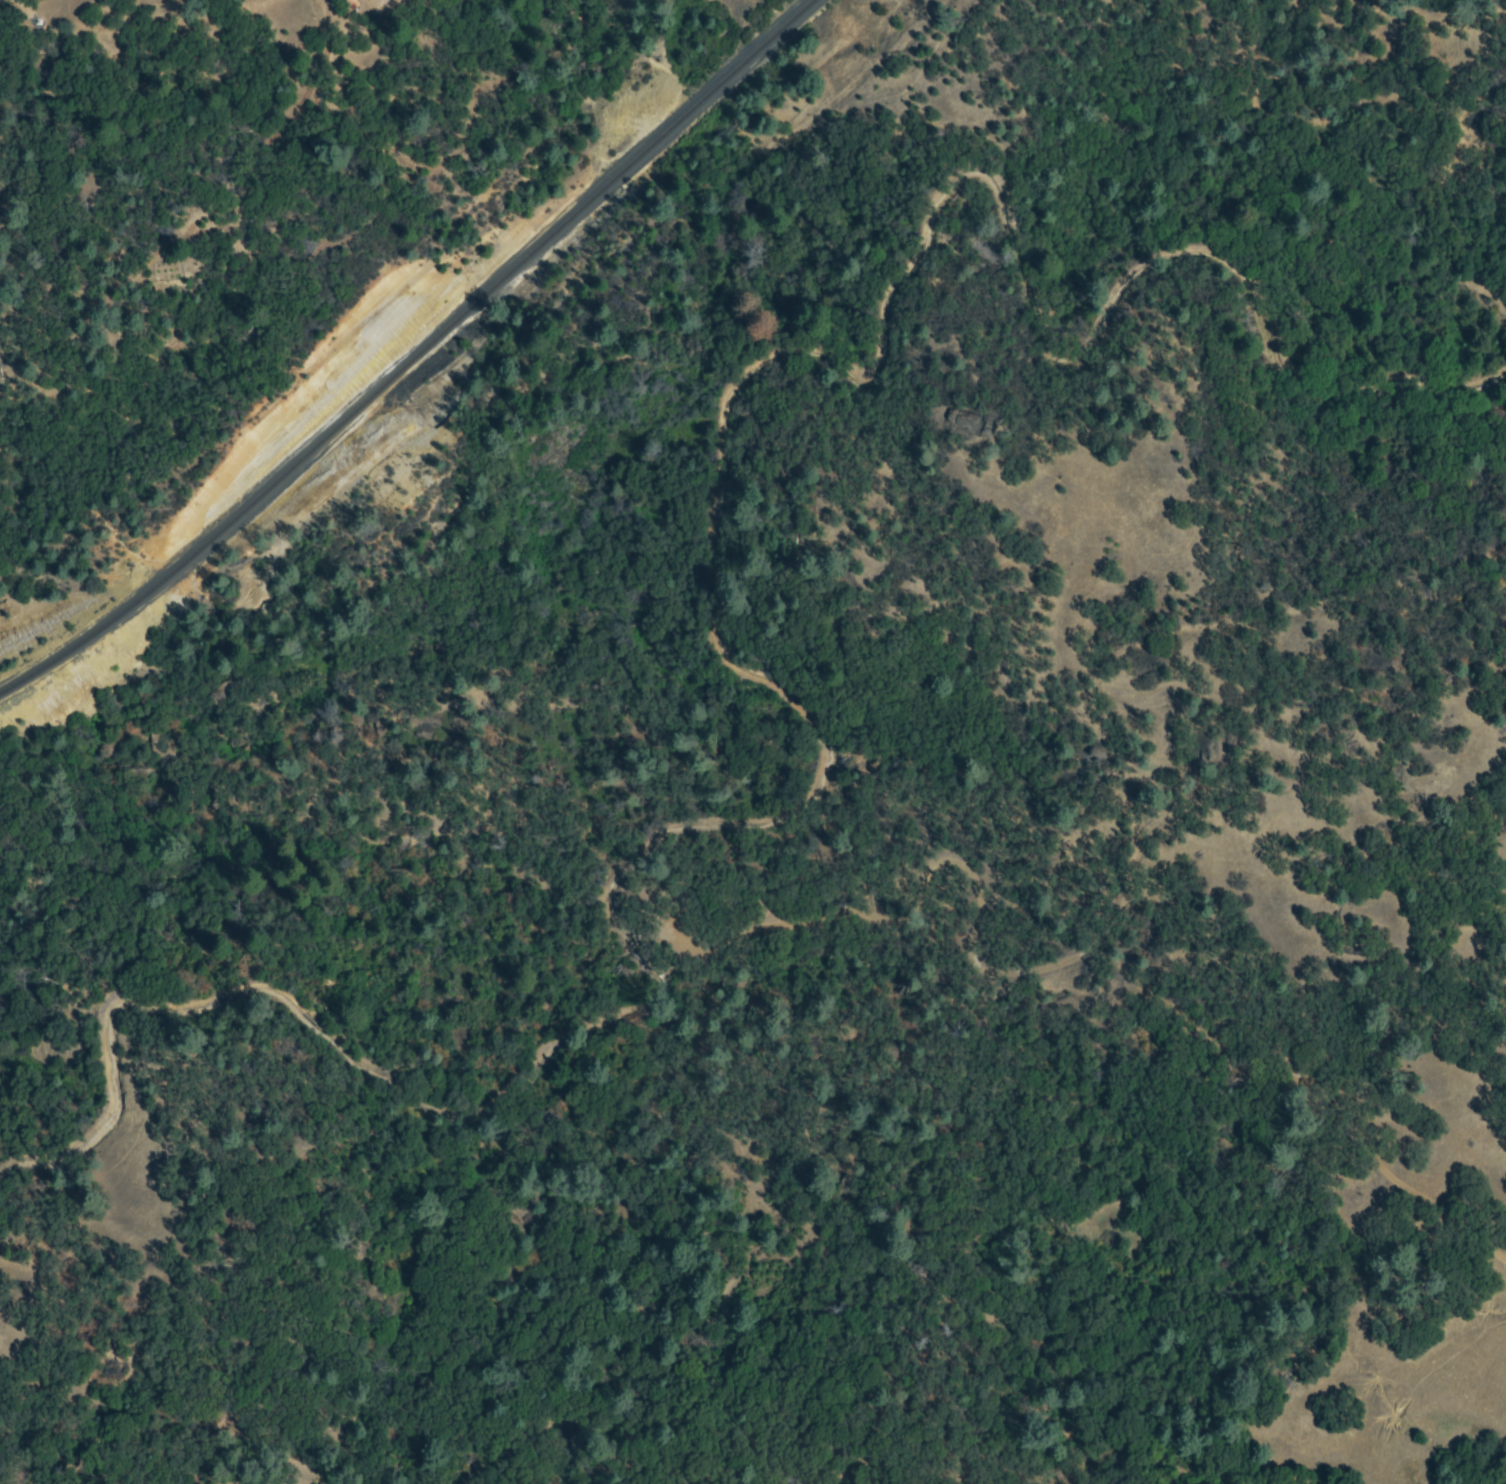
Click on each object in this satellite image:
railway: (416, 358)
road: (1502, 1482)

